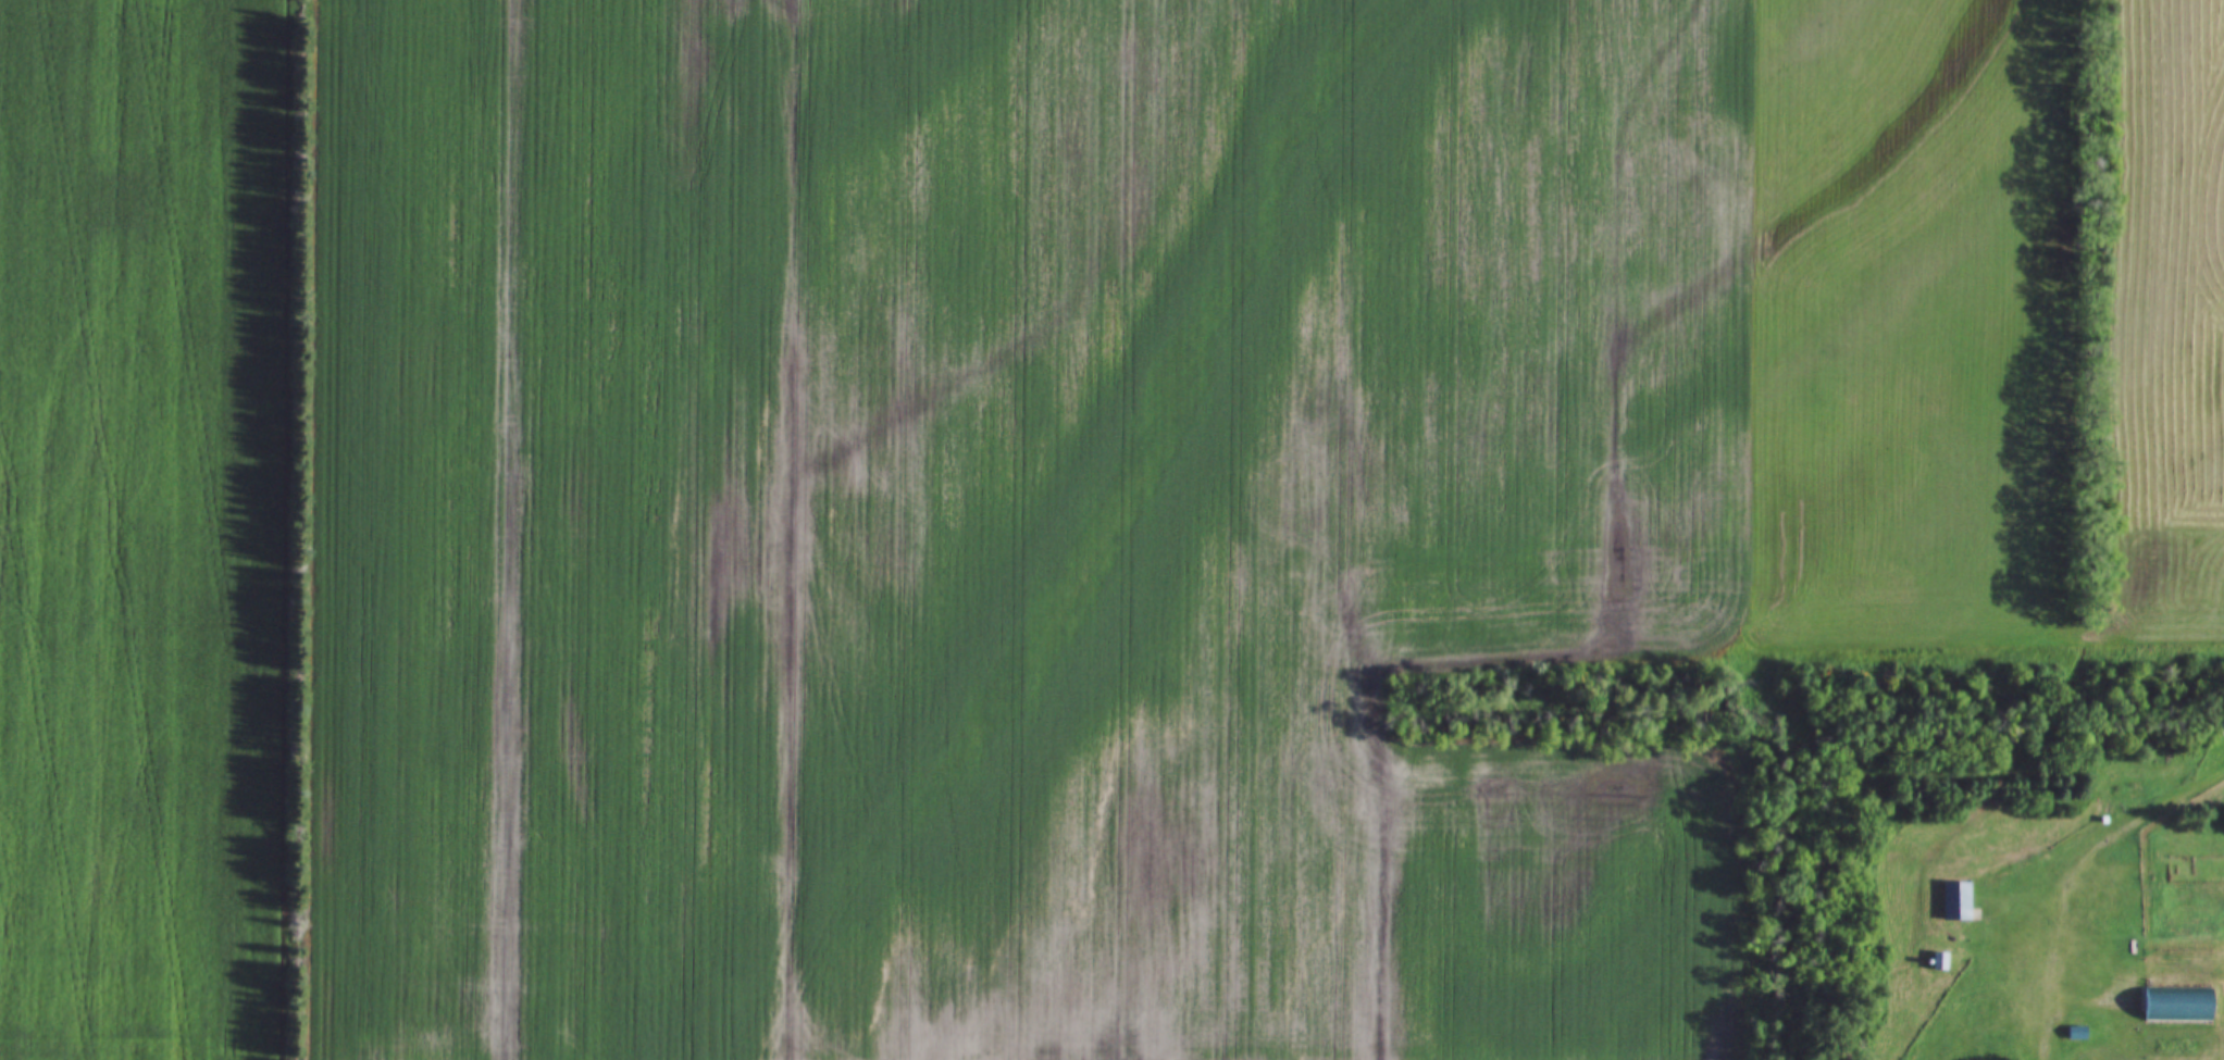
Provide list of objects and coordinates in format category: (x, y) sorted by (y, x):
road: (2076, 878)
building: (1952, 903)
building: (1936, 963)
building: (2174, 1005)
building: (2073, 1035)

